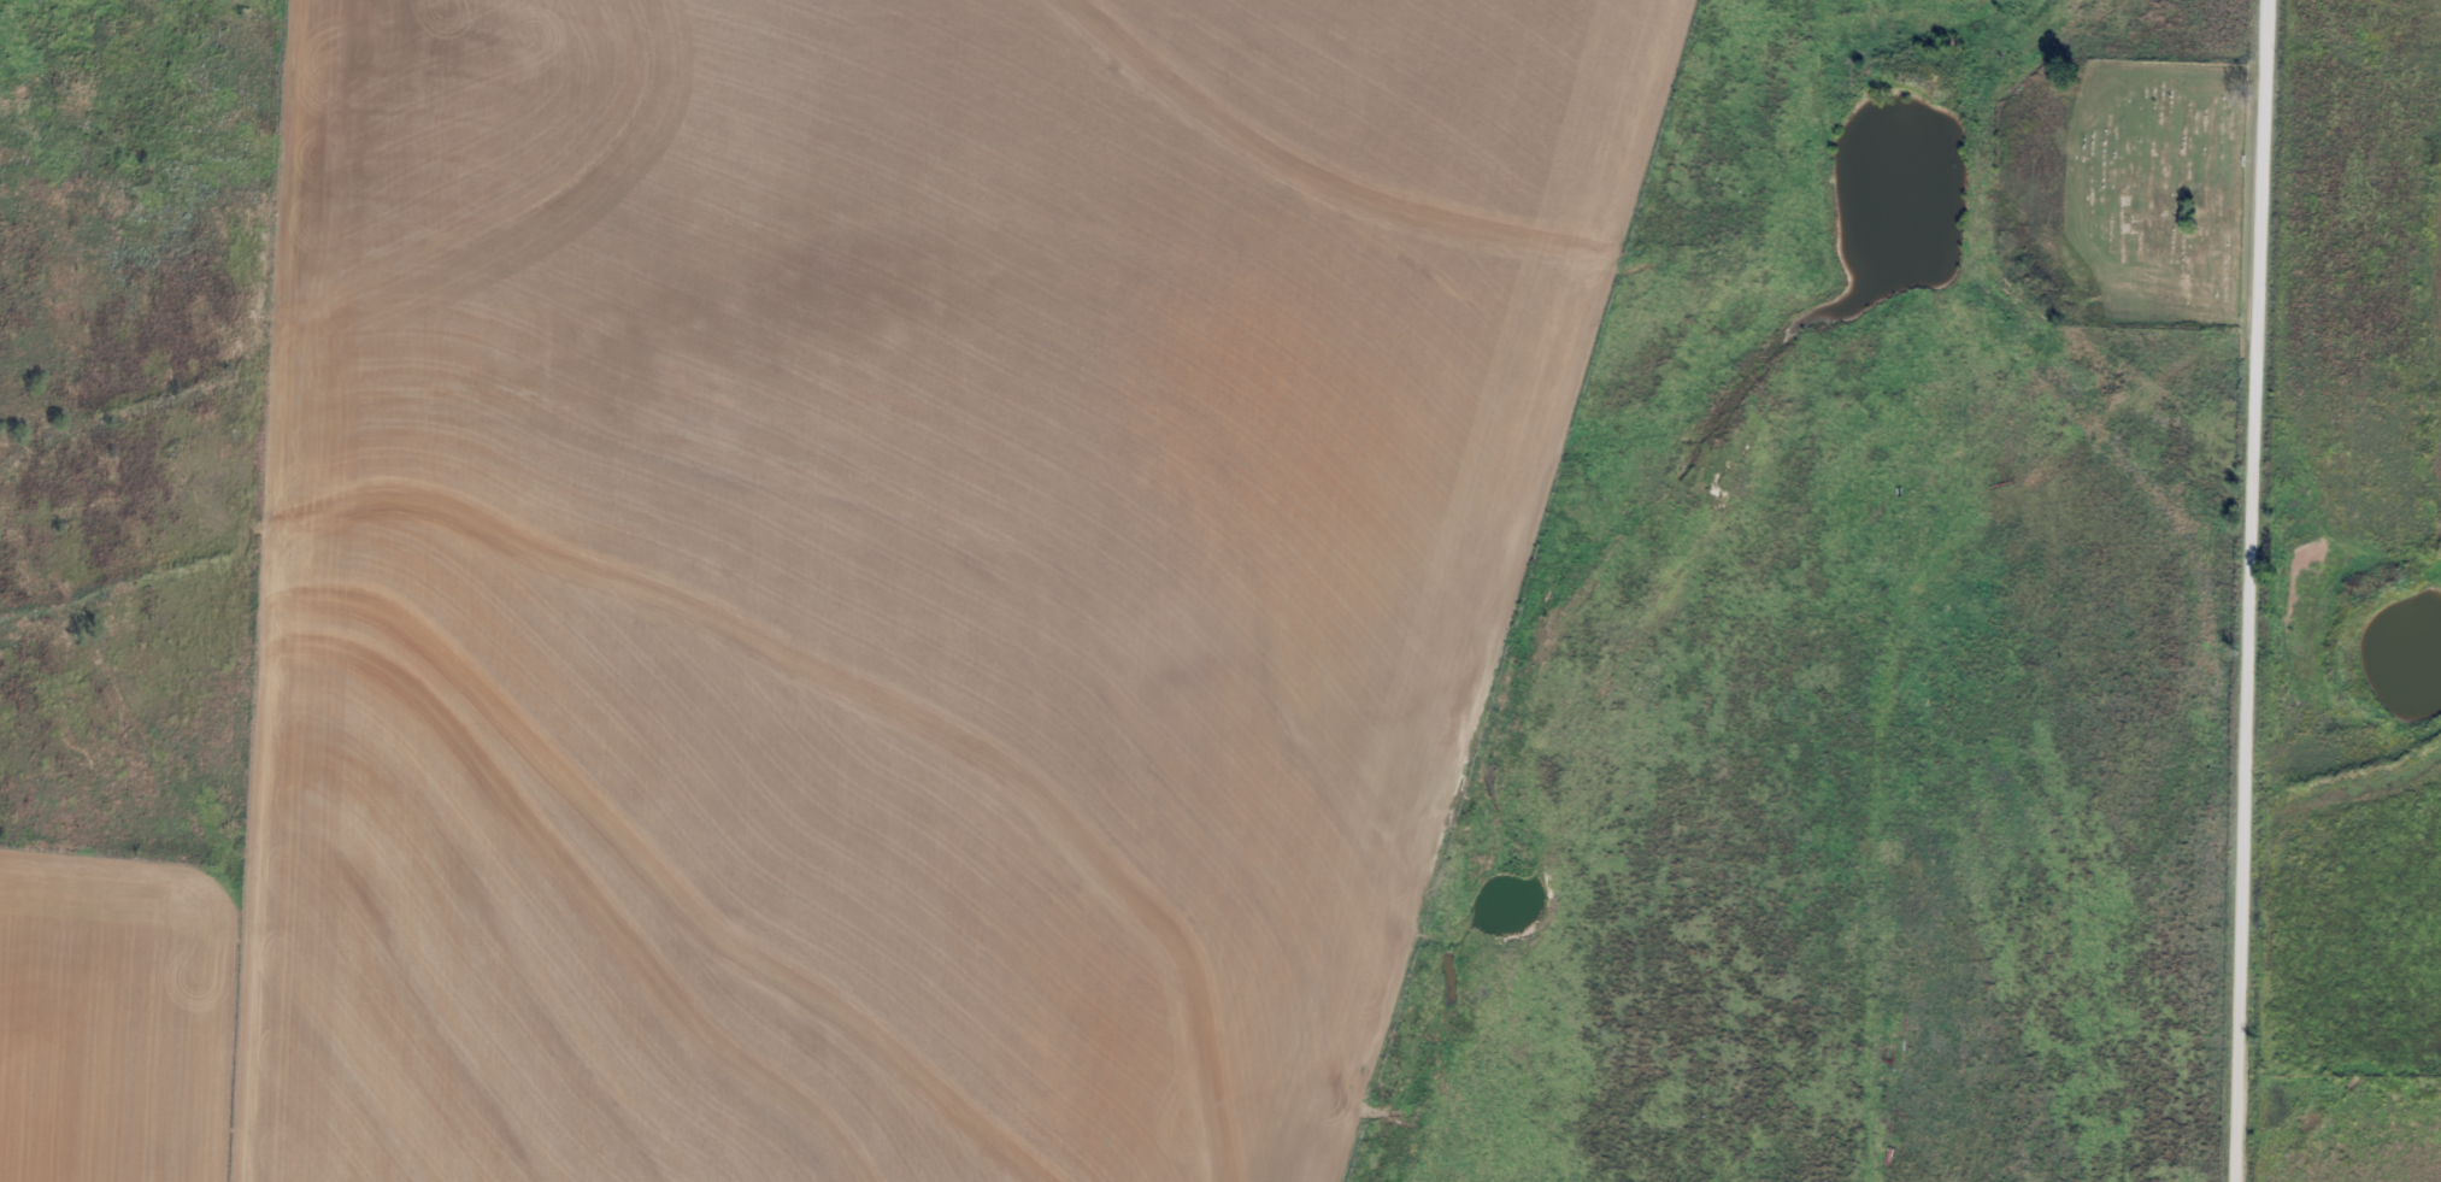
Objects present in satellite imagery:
road: (2265, 163)
park: (2130, 186)
road: (2251, 754)

